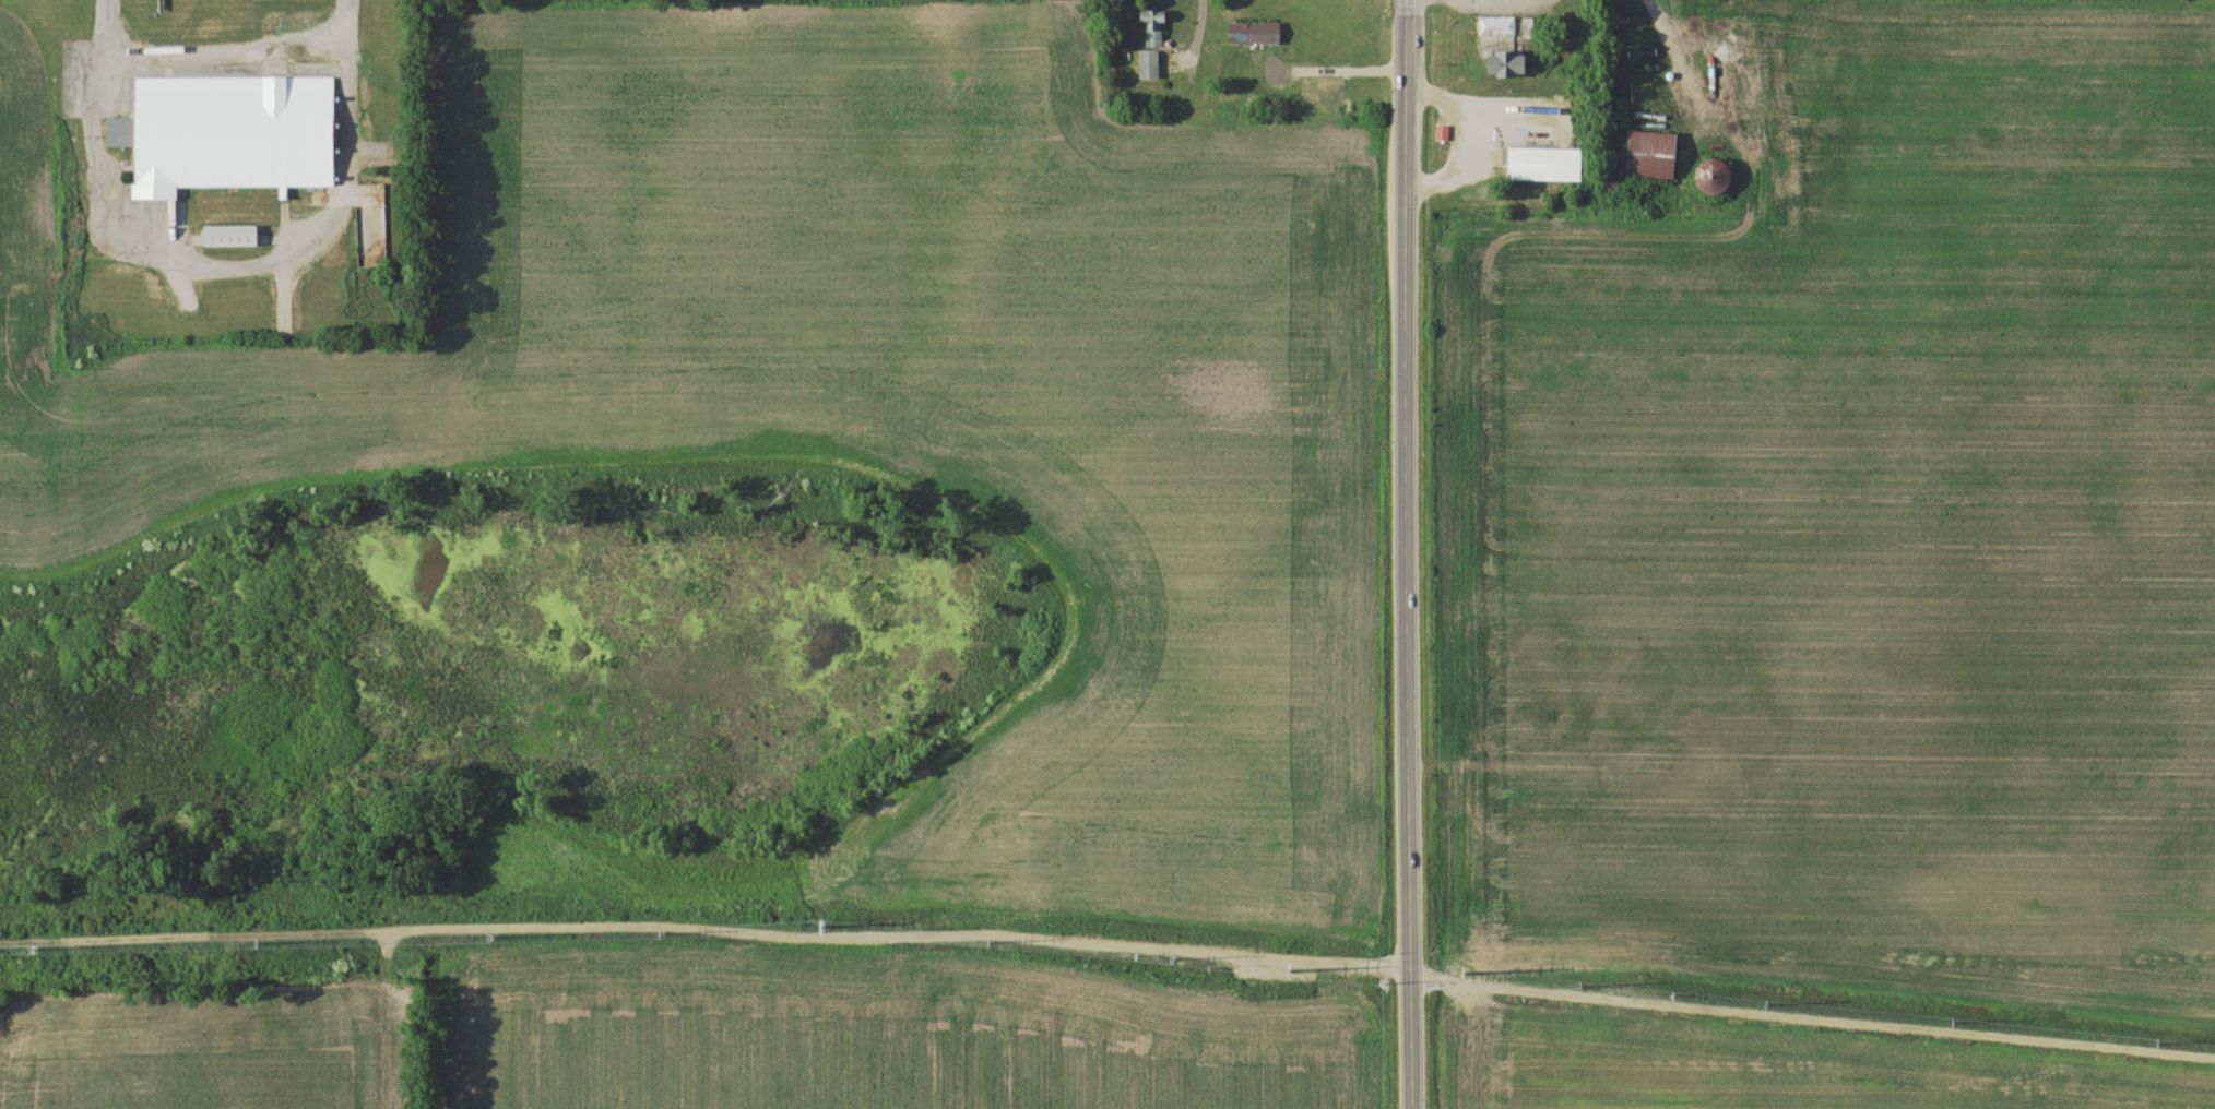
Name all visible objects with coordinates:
building: (1152, 31)
building: (1255, 35)
road: (222, 51)
building: (1148, 67)
building: (1506, 67)
building: (1443, 133)
building: (226, 135)
building: (1650, 157)
building: (1543, 166)
building: (1610, 188)
building: (229, 238)
road: (1409, 554)

